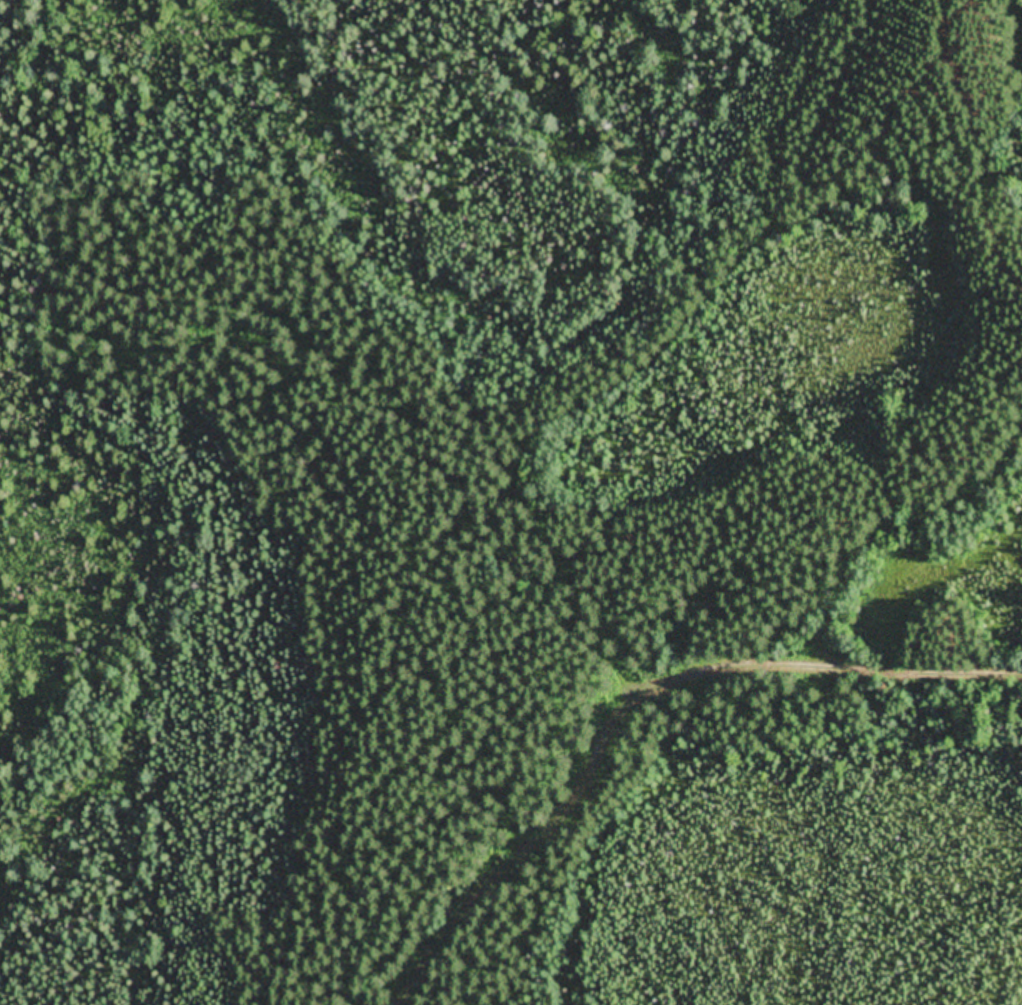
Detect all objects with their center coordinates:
road: (552, 403)
road: (896, 529)
road: (810, 657)
road: (591, 756)

